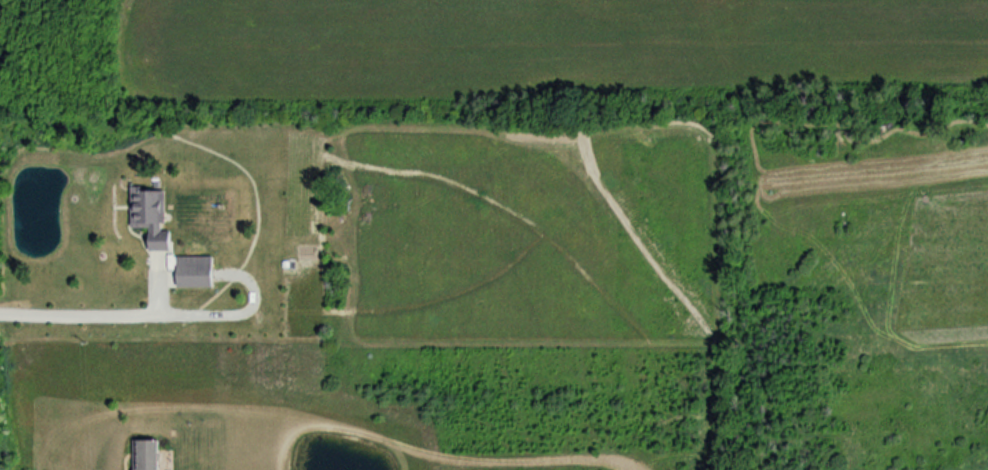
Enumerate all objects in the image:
building: (147, 220)
building: (189, 271)
road: (111, 315)
building: (140, 454)

